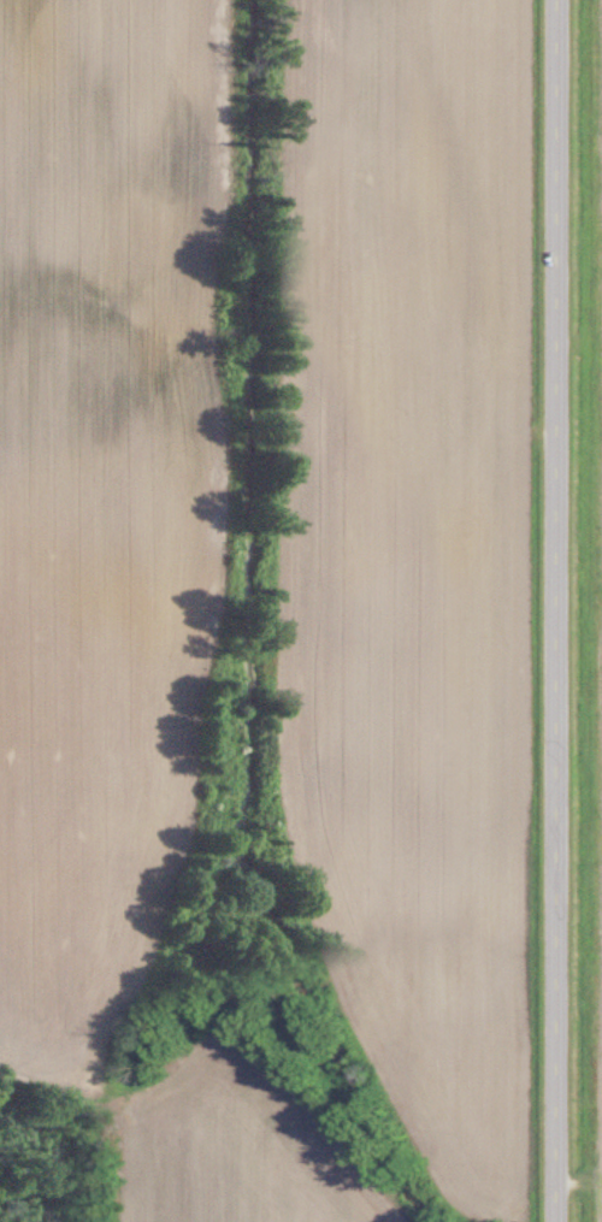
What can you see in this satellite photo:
road: (561, 610)

